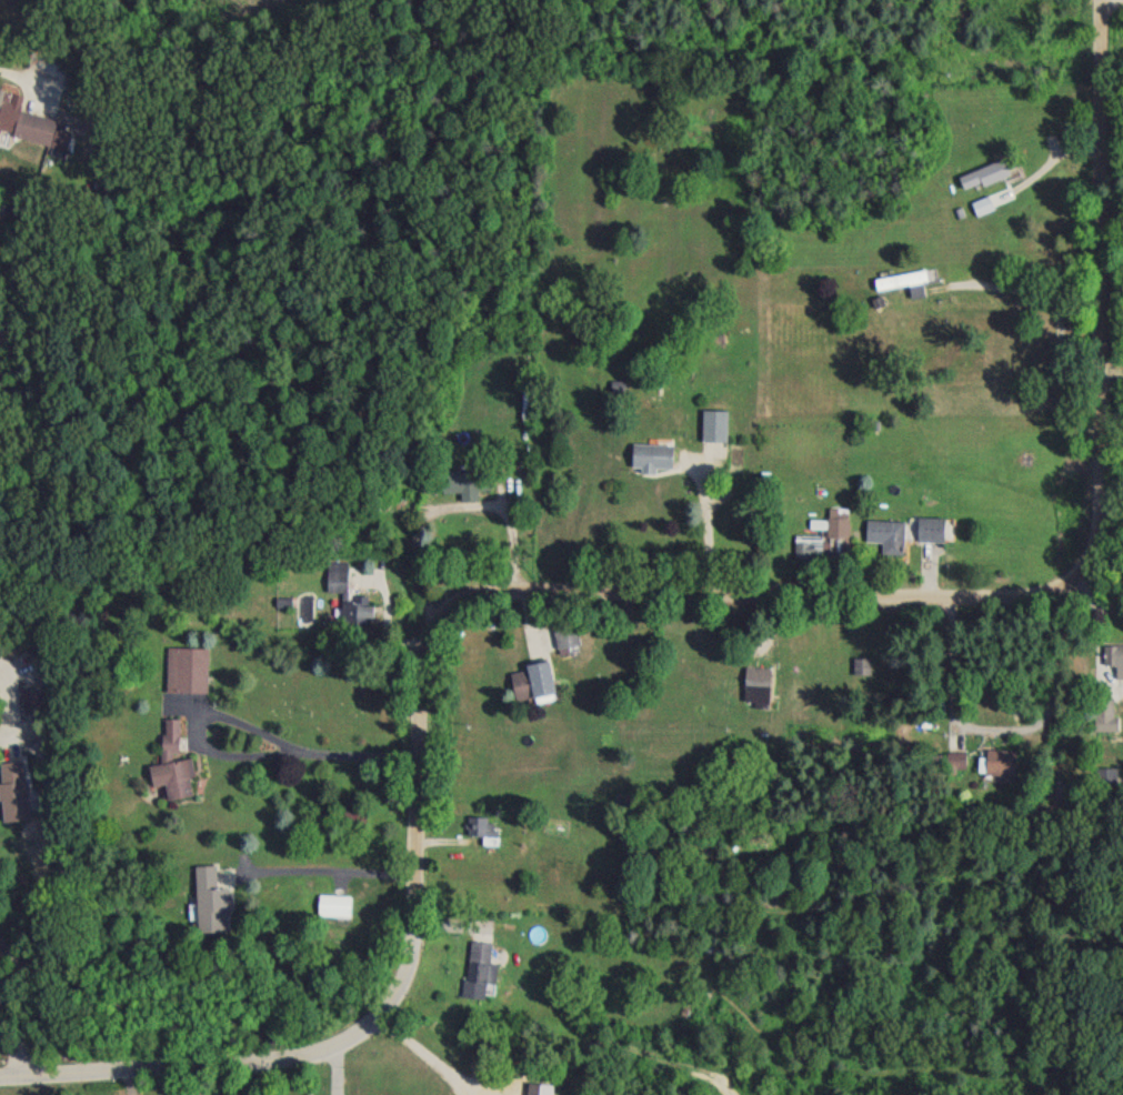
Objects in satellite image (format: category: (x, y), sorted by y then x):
road: (18, 82)
building: (31, 135)
building: (981, 182)
building: (980, 213)
building: (899, 288)
road: (1050, 307)
building: (615, 394)
building: (712, 432)
building: (650, 463)
building: (464, 488)
road: (704, 531)
building: (928, 535)
building: (884, 542)
building: (821, 543)
building: (334, 589)
road: (650, 589)
building: (354, 615)
building: (564, 642)
building: (1110, 672)
building: (860, 673)
building: (184, 676)
building: (529, 687)
building: (754, 694)
building: (30, 706)
road: (6, 710)
building: (1101, 713)
road: (1000, 733)
road: (294, 755)
building: (954, 767)
building: (996, 768)
building: (171, 770)
building: (11, 798)
building: (345, 827)
building: (481, 836)
road: (331, 875)
building: (207, 907)
building: (331, 912)
building: (477, 976)
road: (23, 1012)
road: (424, 1058)

